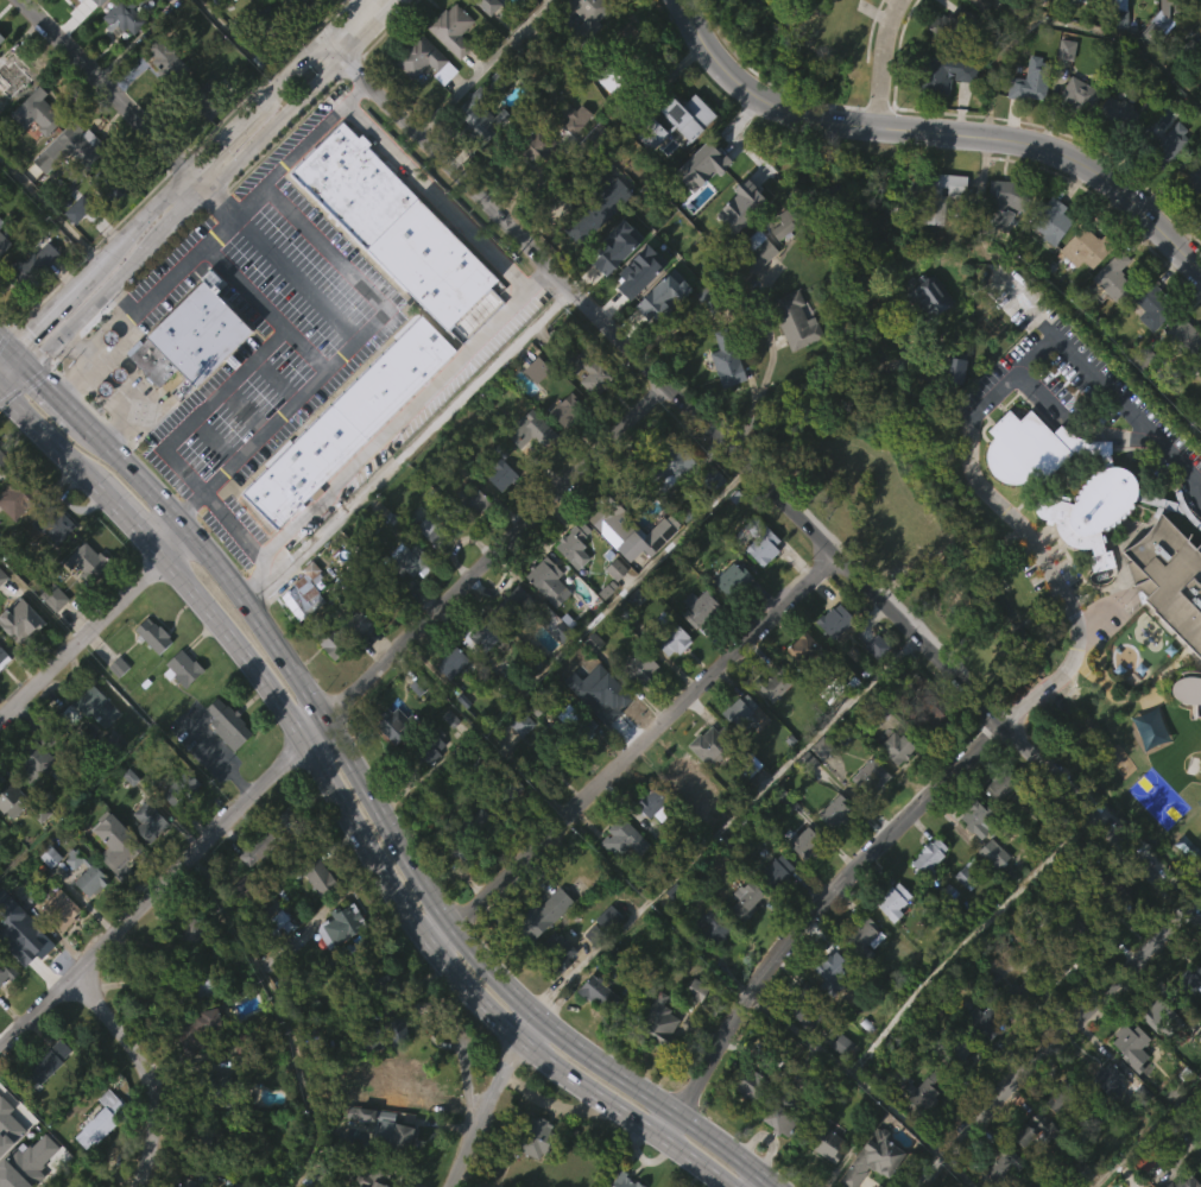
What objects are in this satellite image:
building: (45, 1)
building: (87, 1)
building: (1075, 1)
road: (384, 4)
building: (979, 4)
building: (488, 5)
building: (202, 6)
building: (254, 11)
building: (854, 11)
building: (1022, 11)
building: (286, 12)
building: (1118, 14)
building: (122, 17)
building: (737, 20)
building: (1163, 20)
road: (1062, 24)
building: (952, 26)
building: (449, 29)
building: (582, 29)
building: (91, 31)
building: (483, 33)
building: (973, 39)
building: (584, 51)
building: (422, 59)
building: (163, 61)
building: (120, 62)
road: (878, 63)
road: (482, 65)
building: (449, 72)
building: (11, 75)
building: (942, 75)
building: (1029, 81)
road: (103, 91)
road: (283, 91)
building: (1076, 96)
road: (303, 97)
building: (206, 100)
building: (421, 103)
building: (164, 105)
building: (38, 111)
building: (480, 112)
building: (1117, 114)
building: (678, 120)
building: (962, 120)
building: (11, 122)
building: (607, 124)
building: (1028, 124)
building: (596, 131)
road: (936, 135)
building: (1075, 138)
building: (529, 140)
building: (1161, 144)
building: (80, 145)
building: (206, 145)
road: (304, 145)
building: (37, 154)
building: (480, 157)
building: (1115, 158)
building: (684, 159)
building: (571, 160)
building: (649, 177)
building: (1189, 177)
building: (107, 183)
road: (424, 184)
building: (1165, 185)
road: (201, 189)
building: (532, 189)
building: (65, 191)
building: (937, 194)
building: (1005, 198)
building: (598, 204)
road: (165, 209)
building: (1199, 209)
road: (52, 210)
building: (1050, 219)
building: (1188, 219)
road: (178, 222)
building: (0, 223)
building: (110, 229)
building: (396, 229)
building: (940, 238)
building: (2, 245)
building: (998, 246)
building: (1085, 246)
building: (735, 250)
building: (754, 251)
building: (1199, 251)
building: (77, 253)
building: (1050, 264)
building: (0, 266)
building: (30, 269)
building: (580, 270)
building: (782, 270)
building: (1112, 278)
road: (295, 279)
building: (2, 286)
road: (75, 292)
building: (612, 292)
building: (1080, 292)
building: (927, 295)
building: (754, 296)
building: (710, 298)
road: (122, 301)
road: (143, 303)
building: (31, 304)
building: (1151, 307)
road: (91, 308)
building: (636, 316)
building: (794, 320)
building: (1110, 320)
road: (372, 322)
building: (190, 336)
building: (1183, 336)
building: (928, 340)
road: (7, 342)
building: (658, 342)
building: (1144, 346)
traffic signals: (14, 349)
road: (76, 349)
road: (304, 349)
road: (24, 358)
building: (725, 358)
road: (7, 361)
building: (792, 364)
building: (1197, 364)
traffic signals: (33, 367)
building: (952, 367)
building: (594, 368)
road: (245, 370)
road: (17, 373)
road: (764, 378)
building: (188, 379)
building: (1200, 383)
road: (58, 392)
road: (1037, 393)
road: (131, 398)
road: (826, 403)
building: (889, 408)
building: (1197, 408)
building: (564, 409)
building: (725, 410)
building: (535, 412)
building: (952, 413)
building: (345, 421)
road: (393, 425)
building: (1199, 427)
building: (531, 431)
road: (51, 437)
road: (967, 440)
building: (1032, 446)
road: (411, 447)
building: (564, 453)
building: (4, 463)
building: (345, 465)
building: (662, 466)
building: (499, 473)
building: (530, 478)
road: (765, 482)
building: (1025, 492)
building: (15, 494)
building: (472, 500)
building: (1099, 510)
building: (601, 512)
road: (131, 519)
building: (499, 519)
building: (53, 524)
road: (235, 525)
building: (436, 529)
road: (171, 533)
building: (760, 539)
building: (13, 543)
building: (470, 543)
building: (573, 544)
building: (1088, 558)
building: (407, 560)
building: (86, 561)
building: (605, 564)
building: (49, 568)
building: (431, 575)
building: (1168, 577)
building: (731, 579)
building: (546, 580)
building: (644, 581)
building: (571, 588)
building: (760, 589)
building: (302, 592)
building: (50, 595)
building: (406, 600)
building: (512, 602)
building: (86, 605)
building: (699, 607)
building: (833, 620)
building: (729, 621)
building: (20, 624)
building: (1168, 624)
building: (548, 626)
building: (483, 631)
building: (341, 633)
building: (150, 634)
road: (84, 637)
building: (51, 638)
building: (670, 638)
building: (299, 640)
building: (514, 643)
building: (802, 650)
building: (696, 651)
building: (2, 656)
building: (449, 663)
building: (356, 665)
building: (179, 668)
building: (637, 668)
building: (834, 668)
building: (150, 678)
building: (479, 678)
building: (772, 682)
building: (669, 683)
building: (330, 687)
building: (874, 690)
building: (1188, 690)
building: (801, 693)
building: (607, 697)
building: (93, 705)
building: (921, 706)
building: (450, 707)
building: (115, 709)
building: (181, 711)
building: (636, 712)
building: (739, 713)
road: (331, 716)
building: (519, 721)
building: (226, 724)
building: (393, 724)
building: (771, 727)
building: (576, 728)
building: (415, 730)
building: (1188, 733)
building: (605, 743)
building: (712, 744)
building: (430, 746)
building: (107, 747)
road: (631, 747)
building: (895, 747)
building: (737, 752)
building: (929, 759)
building: (544, 760)
building: (32, 763)
building: (746, 763)
building: (223, 765)
building: (485, 765)
building: (811, 766)
building: (581, 768)
building: (392, 769)
building: (679, 772)
building: (868, 777)
building: (1004, 787)
building: (178, 789)
building: (706, 789)
building: (430, 791)
building: (892, 791)
building: (813, 797)
building: (13, 801)
building: (652, 804)
building: (834, 812)
building: (679, 814)
building: (867, 819)
building: (978, 819)
building: (146, 820)
building: (997, 829)
building: (179, 833)
building: (467, 834)
building: (273, 836)
road: (392, 836)
building: (622, 839)
building: (801, 842)
building: (11, 844)
building: (110, 845)
building: (652, 847)
building: (992, 853)
building: (832, 854)
building: (927, 858)
building: (973, 861)
building: (147, 864)
building: (84, 871)
building: (775, 872)
building: (317, 876)
building: (619, 882)
building: (799, 883)
building: (113, 885)
building: (240, 891)
building: (990, 897)
building: (1112, 897)
building: (927, 899)
building: (744, 901)
building: (892, 902)
road: (402, 904)
building: (59, 907)
building: (265, 910)
building: (775, 914)
building: (538, 915)
road: (810, 915)
building: (961, 917)
building: (607, 918)
building: (316, 920)
building: (341, 923)
building: (88, 924)
building: (189, 928)
building: (714, 928)
building: (1074, 929)
building: (19, 932)
building: (862, 935)
building: (744, 942)
building: (891, 946)
building: (58, 948)
building: (556, 952)
building: (273, 958)
building: (1051, 958)
building: (606, 960)
building: (7, 967)
building: (832, 967)
building: (339, 968)
building: (712, 971)
building: (367, 977)
building: (861, 978)
building: (1188, 980)
building: (190, 983)
building: (1020, 991)
building: (555, 992)
building: (595, 992)
building: (804, 1006)
building: (829, 1011)
building: (656, 1015)
building: (5, 1017)
building: (1169, 1018)
building: (990, 1021)
building: (387, 1027)
building: (196, 1029)
building: (694, 1033)
building: (1017, 1035)
building: (595, 1036)
road: (1056, 1047)
building: (1131, 1047)
building: (947, 1048)
building: (1151, 1057)
building: (657, 1060)
building: (46, 1061)
building: (980, 1065)
road: (145, 1071)
building: (196, 1073)
building: (1108, 1076)
building: (392, 1080)
road: (464, 1082)
building: (753, 1082)
building: (839, 1088)
building: (211, 1090)
building: (1129, 1091)
building: (923, 1092)
building: (956, 1093)
building: (1060, 1099)
road: (487, 1100)
building: (45, 1106)
building: (780, 1117)
building: (100, 1119)
building: (216, 1119)
building: (746, 1126)
building: (1037, 1128)
road: (1148, 1132)
building: (923, 1134)
building: (206, 1137)
building: (533, 1138)
building: (394, 1141)
building: (824, 1143)
building: (1055, 1143)
road: (1184, 1145)
road: (621, 1156)
building: (872, 1157)
building: (779, 1158)
building: (99, 1161)
building: (1000, 1167)
building: (7, 1168)
building: (1081, 1170)
road: (963, 1173)
building: (1030, 1173)
building: (532, 1174)
building: (372, 1176)
building: (398, 1176)
building: (826, 1180)
building: (622, 1181)
road: (758, 1181)
building: (1184, 1181)
building: (185, 1182)
building: (499, 1186)

